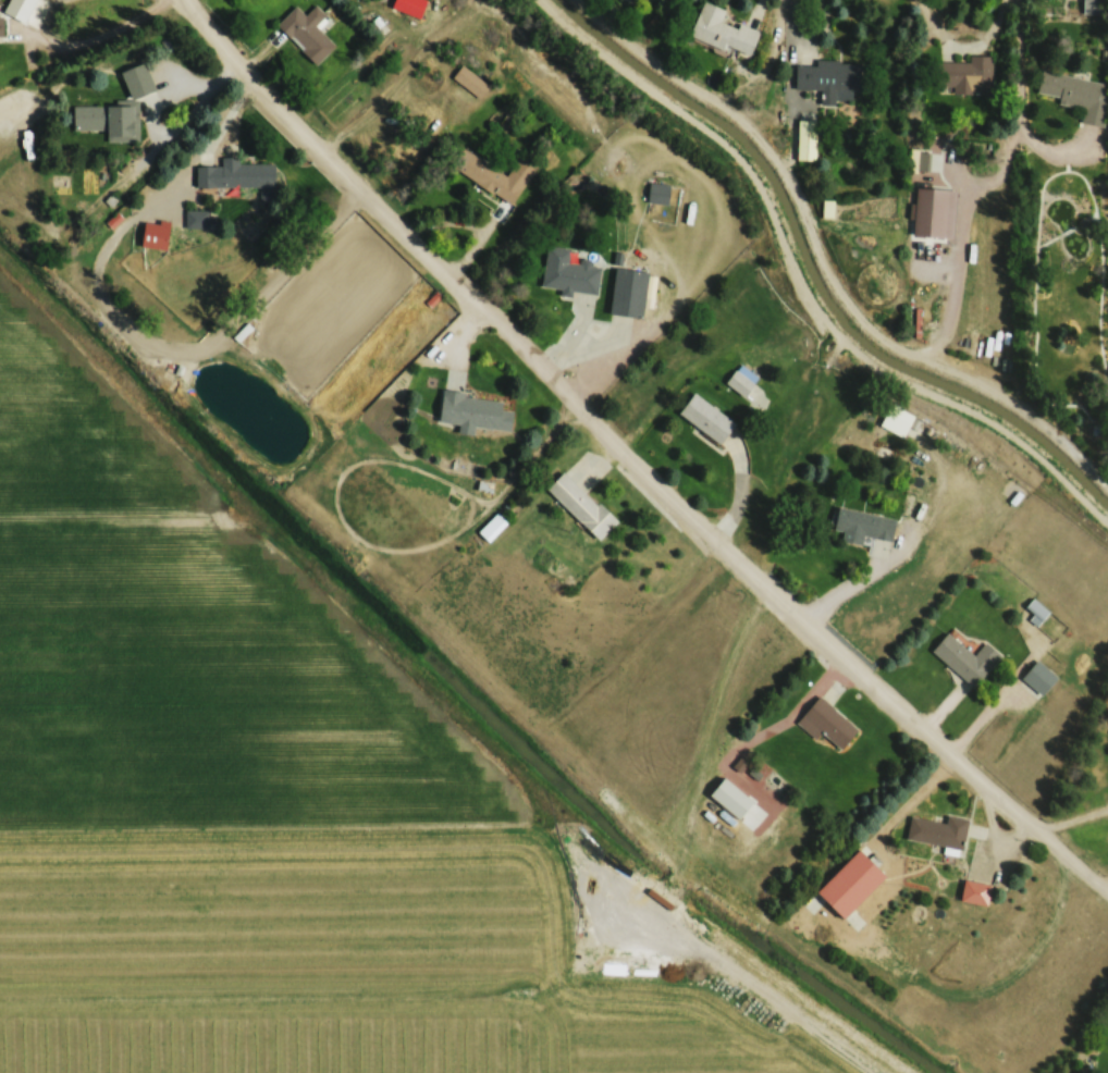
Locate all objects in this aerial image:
building: (1092, 5)
road: (32, 15)
building: (0, 27)
building: (719, 29)
building: (306, 33)
road: (965, 44)
building: (963, 75)
building: (829, 78)
building: (136, 79)
building: (475, 85)
building: (1075, 95)
road: (1026, 103)
building: (107, 121)
building: (804, 136)
building: (916, 161)
building: (234, 175)
building: (496, 176)
building: (656, 193)
building: (195, 219)
building: (153, 234)
building: (567, 271)
road: (804, 282)
building: (629, 291)
building: (740, 380)
building: (471, 411)
building: (704, 418)
building: (896, 420)
road: (633, 458)
building: (579, 504)
building: (862, 525)
building: (491, 527)
building: (1035, 608)
building: (964, 658)
building: (1036, 679)
building: (825, 723)
building: (937, 831)
building: (847, 883)
building: (973, 892)

